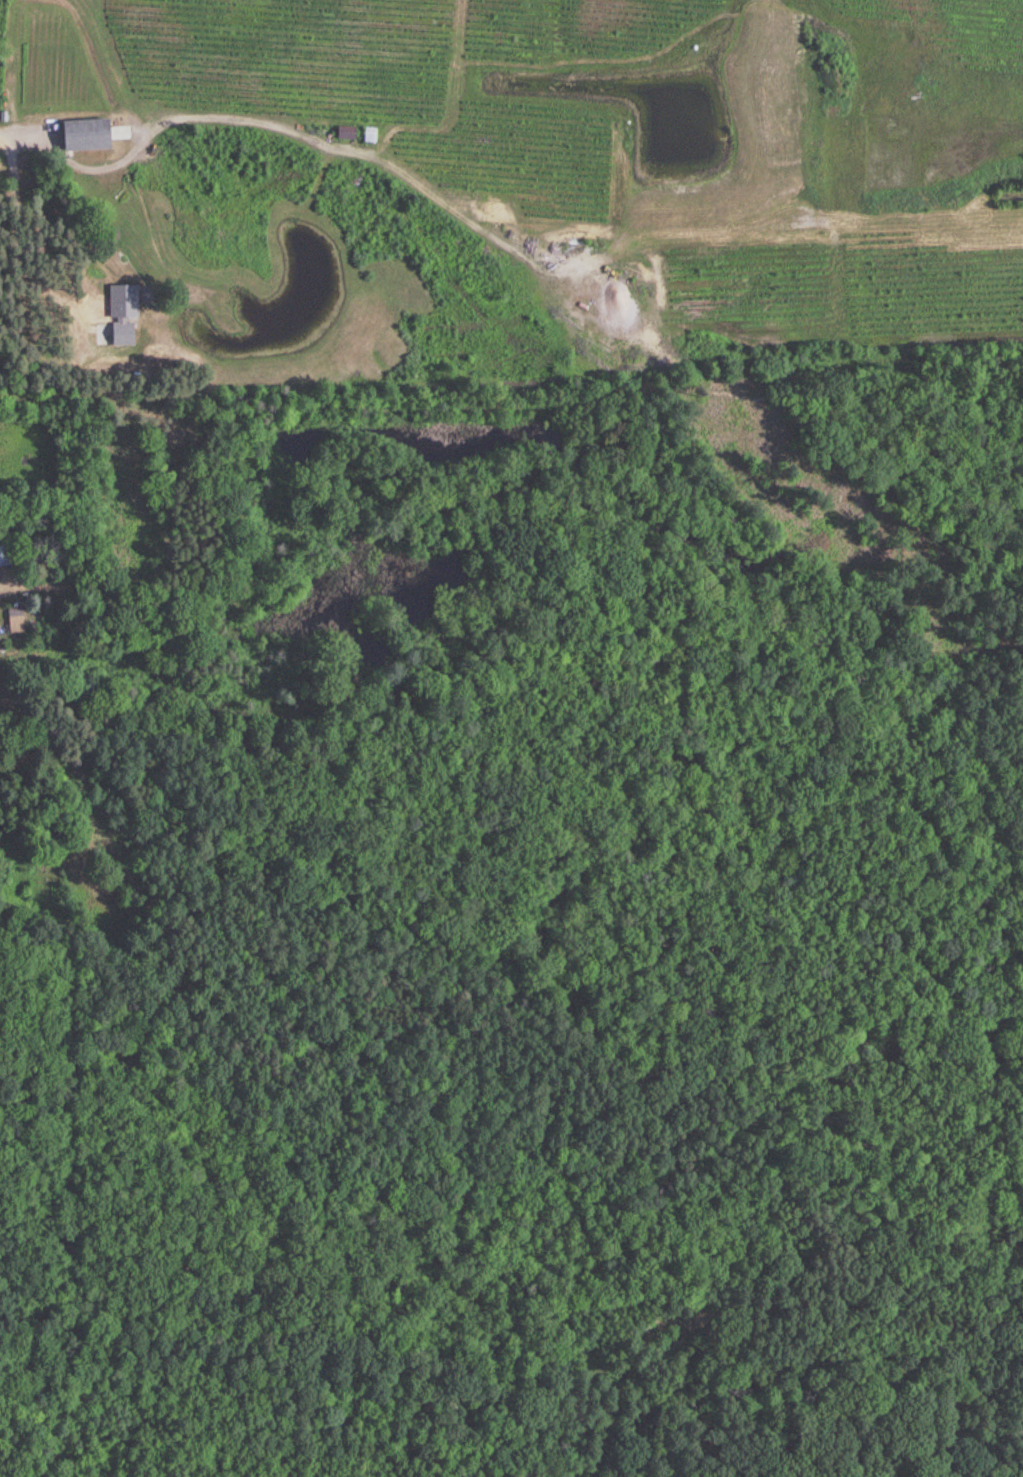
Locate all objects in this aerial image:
building: (345, 132)
road: (14, 133)
building: (83, 134)
building: (369, 135)
building: (125, 315)
building: (4, 555)
building: (15, 620)

